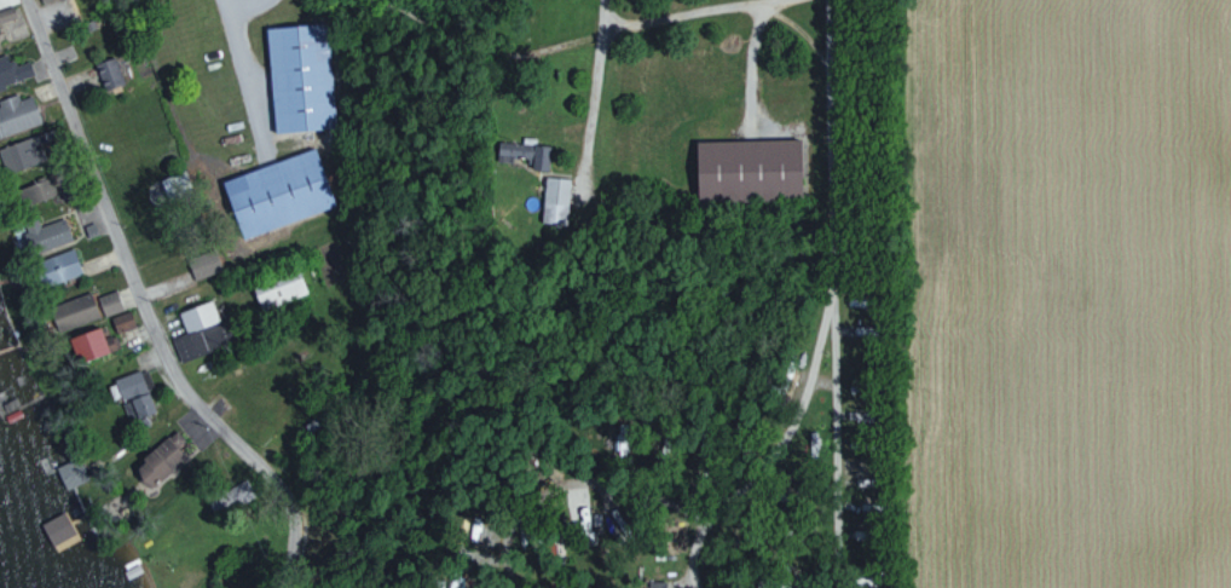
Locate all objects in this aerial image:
road: (237, 4)
road: (677, 12)
building: (6, 13)
road: (798, 27)
building: (13, 71)
building: (108, 73)
road: (242, 75)
building: (300, 77)
road: (584, 94)
building: (17, 113)
building: (16, 152)
building: (524, 154)
building: (746, 169)
road: (838, 186)
building: (278, 192)
building: (28, 195)
building: (554, 200)
building: (44, 234)
building: (203, 264)
building: (56, 267)
building: (279, 290)
building: (109, 302)
building: (73, 311)
road: (141, 311)
building: (121, 321)
building: (198, 332)
road: (825, 336)
building: (87, 344)
road: (825, 373)
building: (132, 394)
building: (158, 459)
building: (70, 472)
road: (838, 480)
road: (665, 498)
building: (600, 520)
road: (694, 552)
building: (657, 584)

